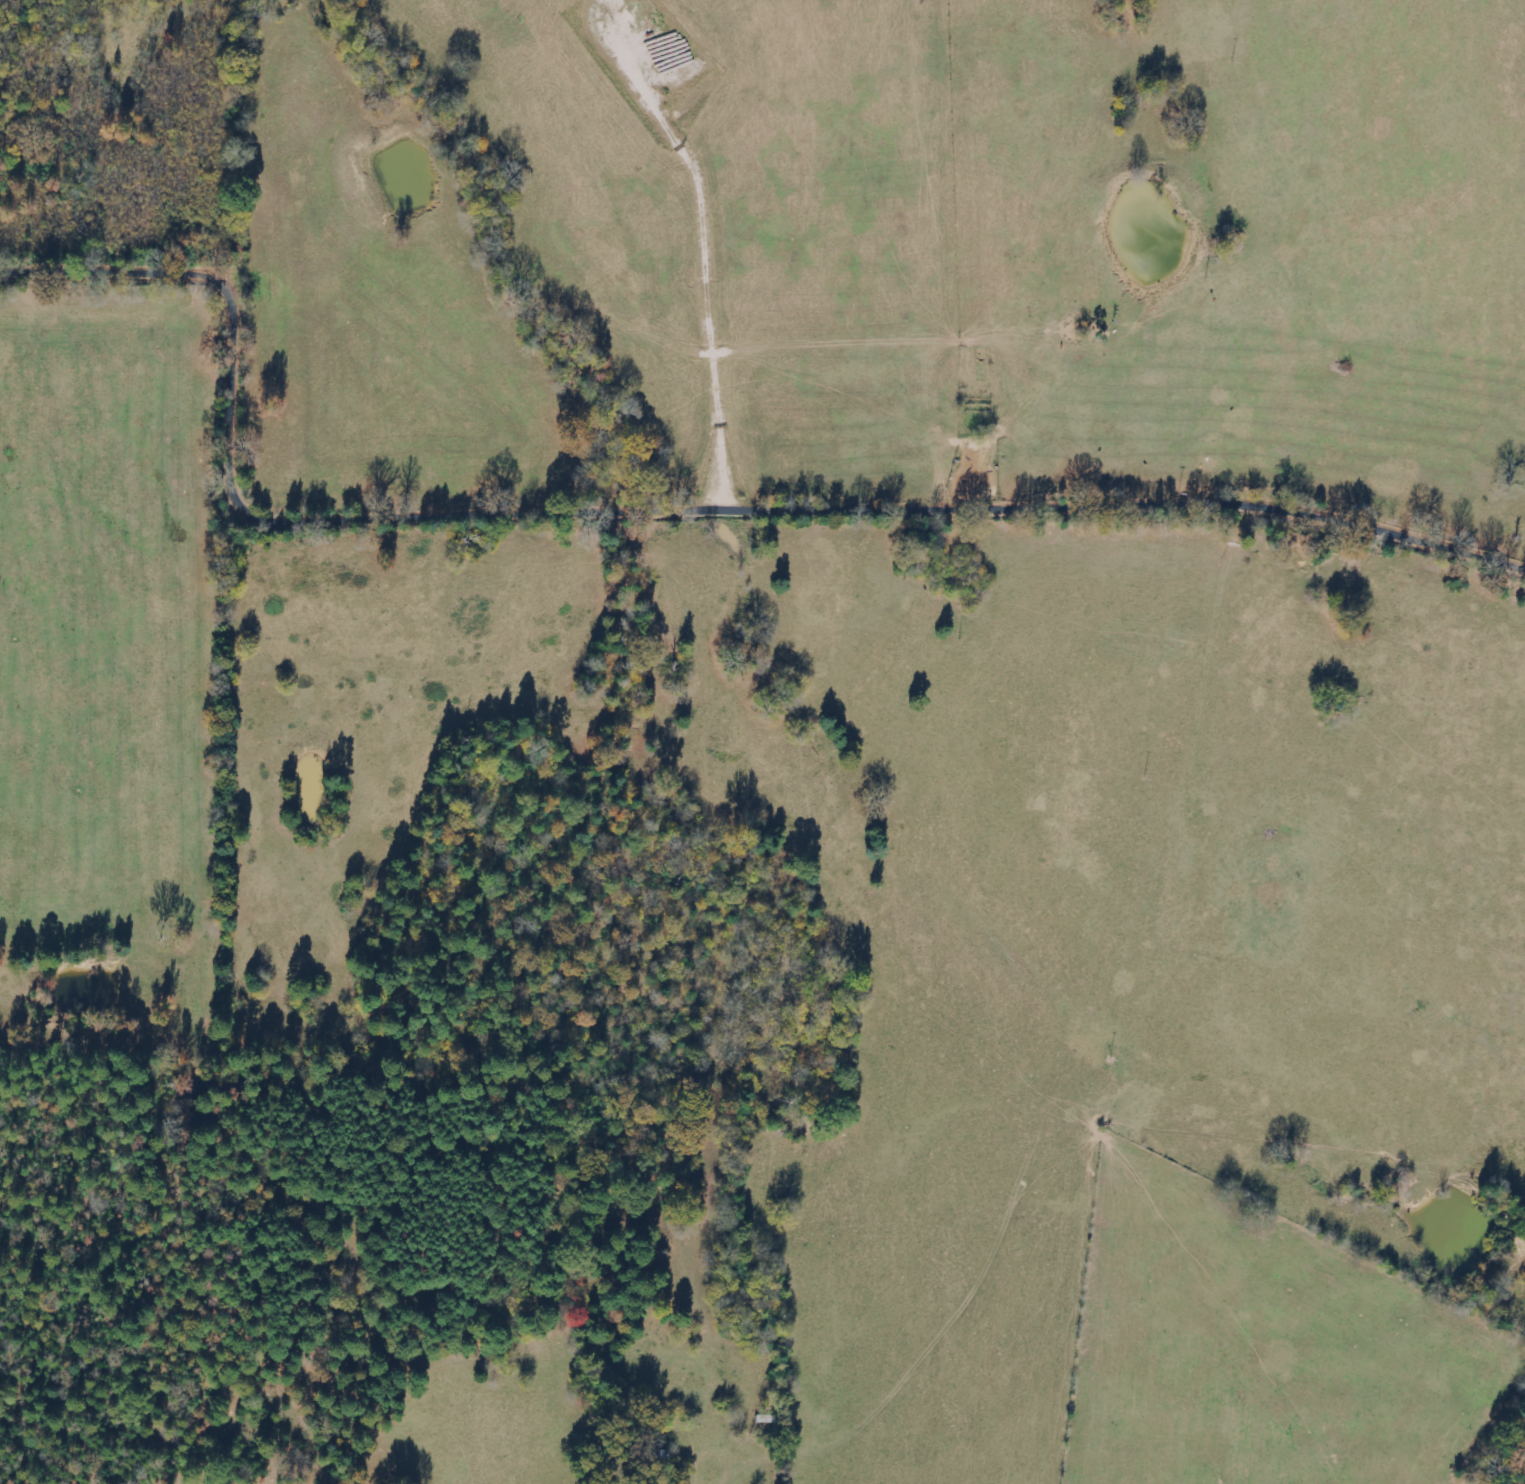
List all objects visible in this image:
road: (663, 515)

